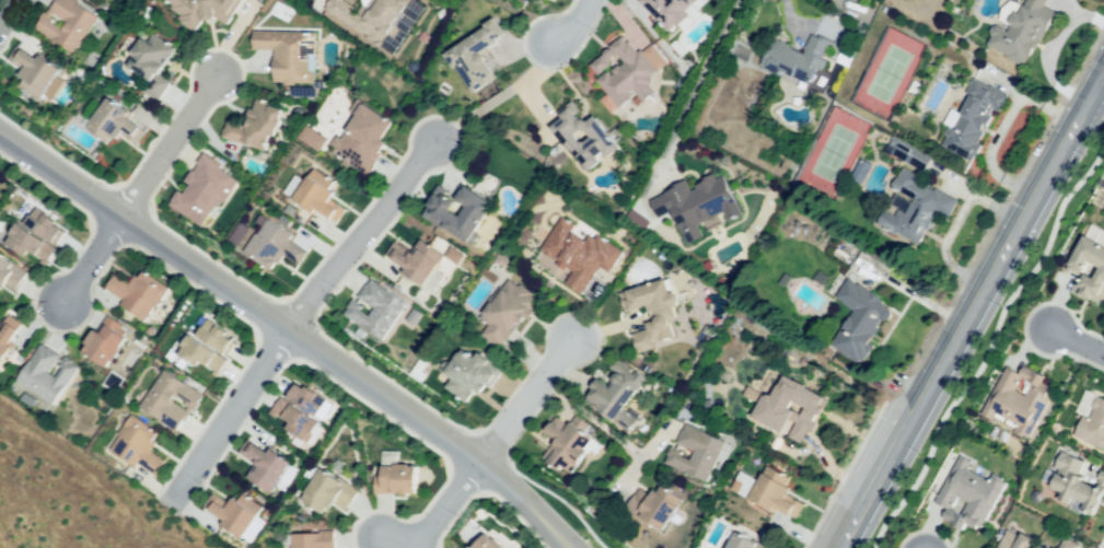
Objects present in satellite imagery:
building: (94, 0)
road: (7, 10)
building: (205, 10)
building: (673, 10)
building: (372, 15)
building: (69, 22)
road: (571, 25)
building: (1016, 34)
building: (289, 51)
building: (477, 56)
building: (801, 56)
building: (154, 62)
building: (627, 69)
building: (35, 72)
building: (969, 113)
building: (121, 124)
building: (259, 127)
road: (1000, 127)
building: (588, 133)
building: (312, 136)
building: (367, 139)
road: (168, 144)
building: (907, 153)
building: (206, 190)
building: (322, 197)
building: (692, 201)
building: (918, 207)
building: (441, 213)
road: (953, 223)
building: (38, 237)
road: (360, 238)
building: (268, 243)
building: (584, 252)
road: (91, 260)
building: (418, 263)
building: (1099, 271)
building: (12, 276)
building: (138, 293)
building: (509, 310)
road: (973, 311)
building: (377, 312)
building: (658, 313)
building: (858, 319)
road: (288, 334)
road: (1076, 340)
building: (8, 342)
building: (108, 345)
park: (988, 345)
road: (988, 346)
building: (211, 349)
building: (45, 373)
building: (474, 373)
building: (615, 392)
building: (170, 398)
road: (524, 400)
building: (1018, 403)
building: (793, 406)
building: (301, 412)
road: (230, 416)
road: (591, 419)
building: (1091, 425)
building: (568, 446)
building: (140, 447)
building: (697, 448)
road: (642, 456)
building: (265, 466)
building: (400, 480)
building: (1073, 485)
building: (776, 489)
building: (328, 491)
building: (967, 494)
road: (444, 504)
building: (661, 506)
building: (235, 515)
building: (313, 539)
building: (1011, 540)
building: (490, 543)
building: (741, 543)
road: (388, 544)
building: (1065, 544)

